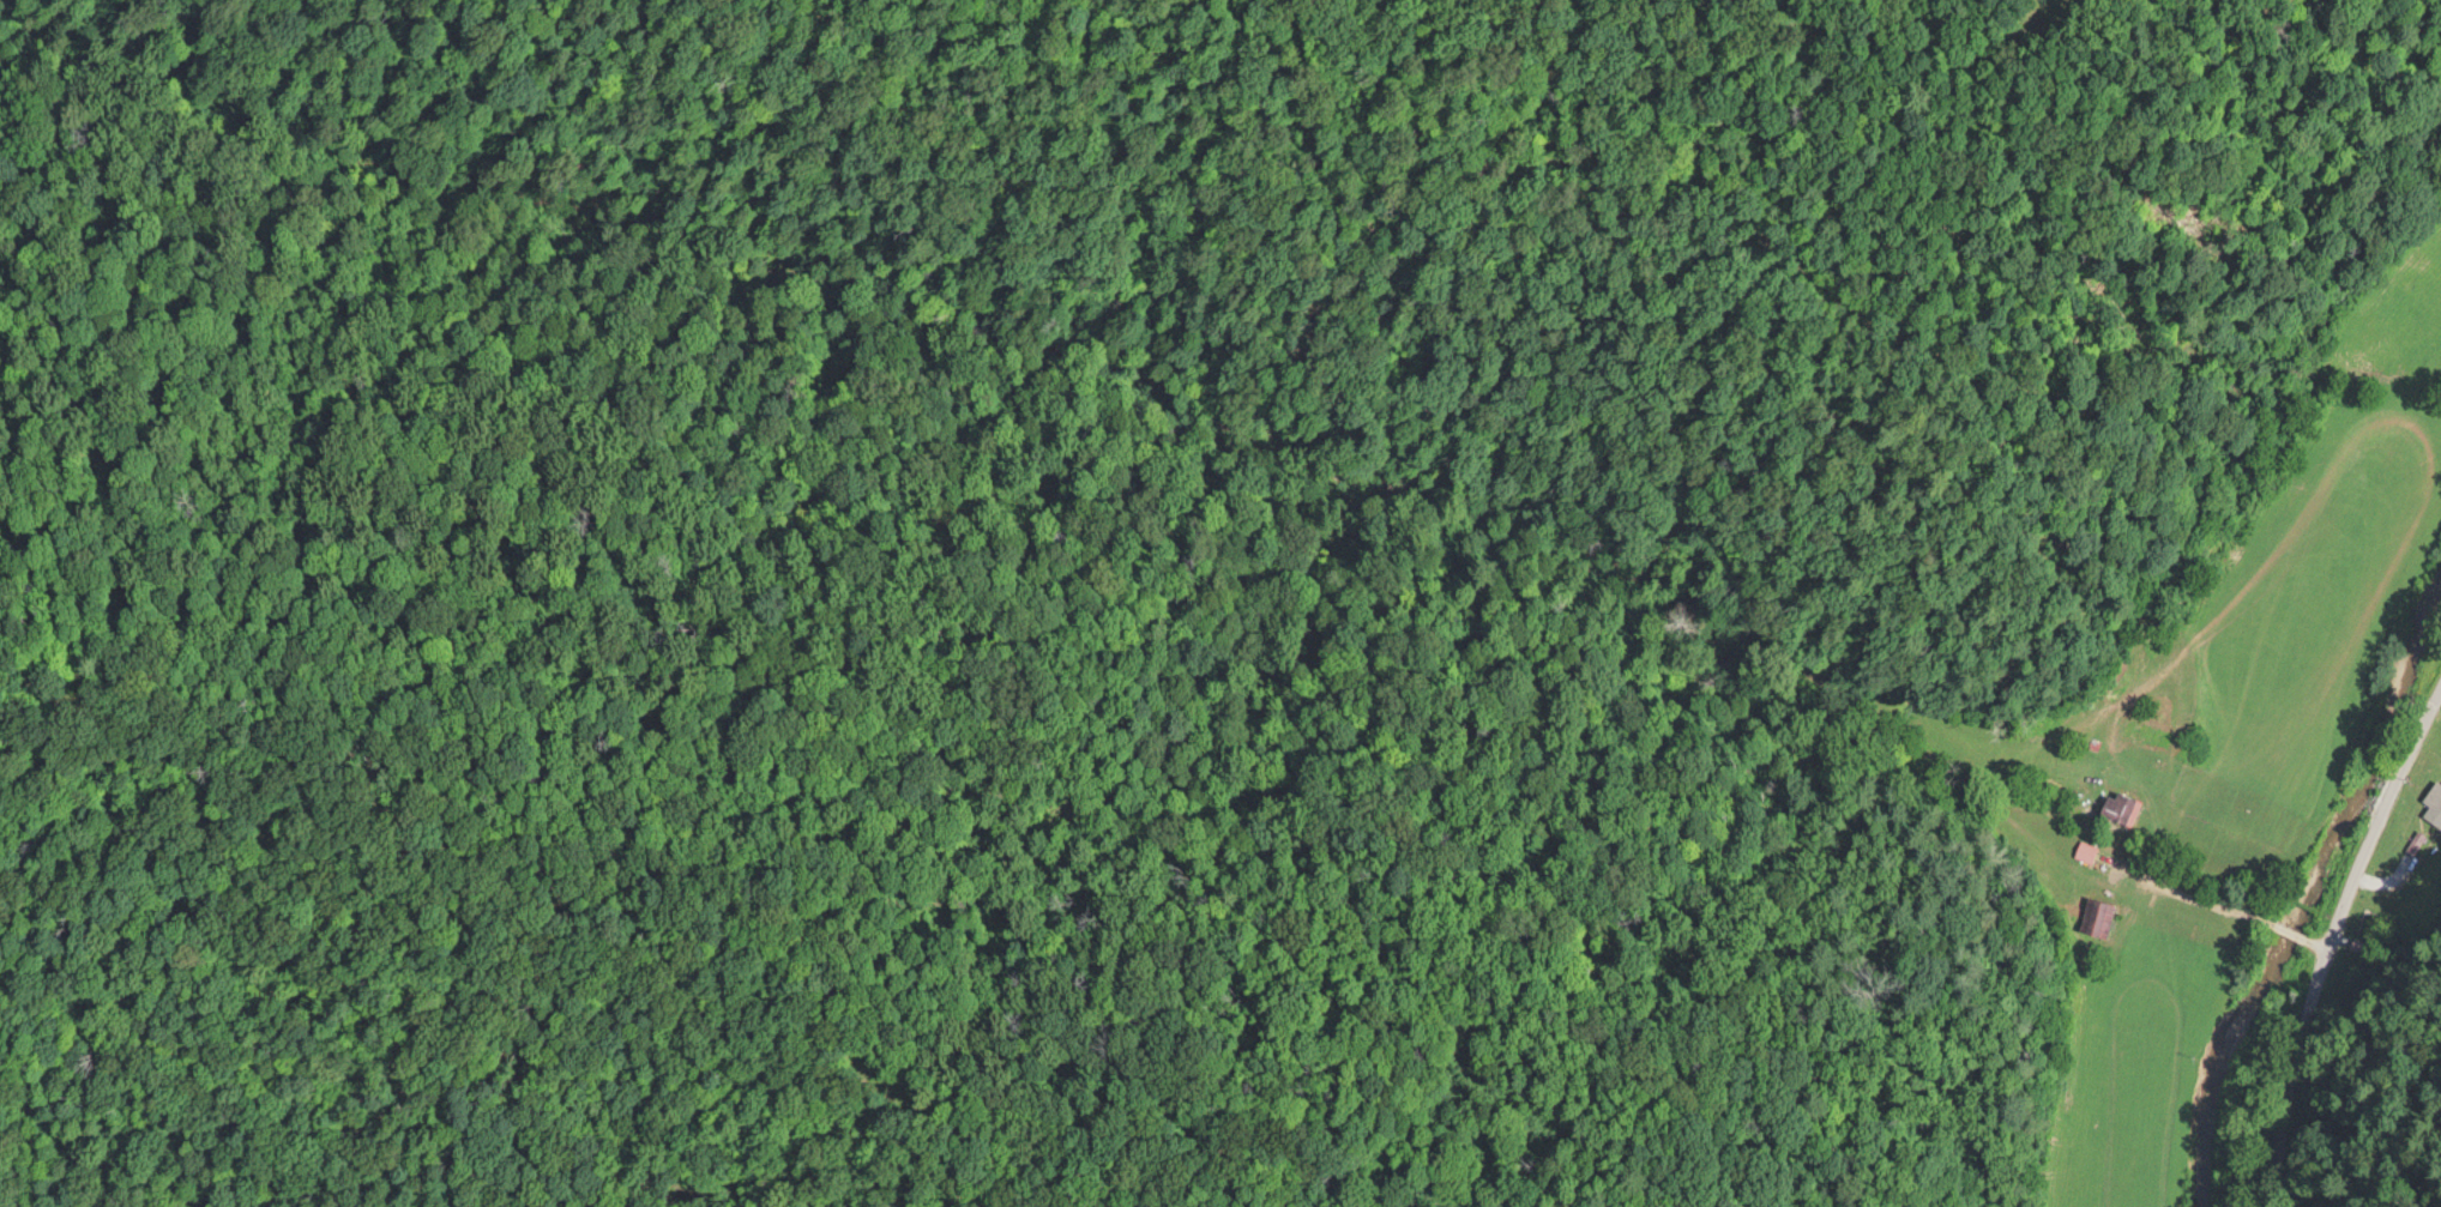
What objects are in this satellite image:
building: (2145, 716)
building: (2118, 807)
building: (2083, 850)
river: (2302, 887)
building: (2095, 916)
road: (2330, 962)

